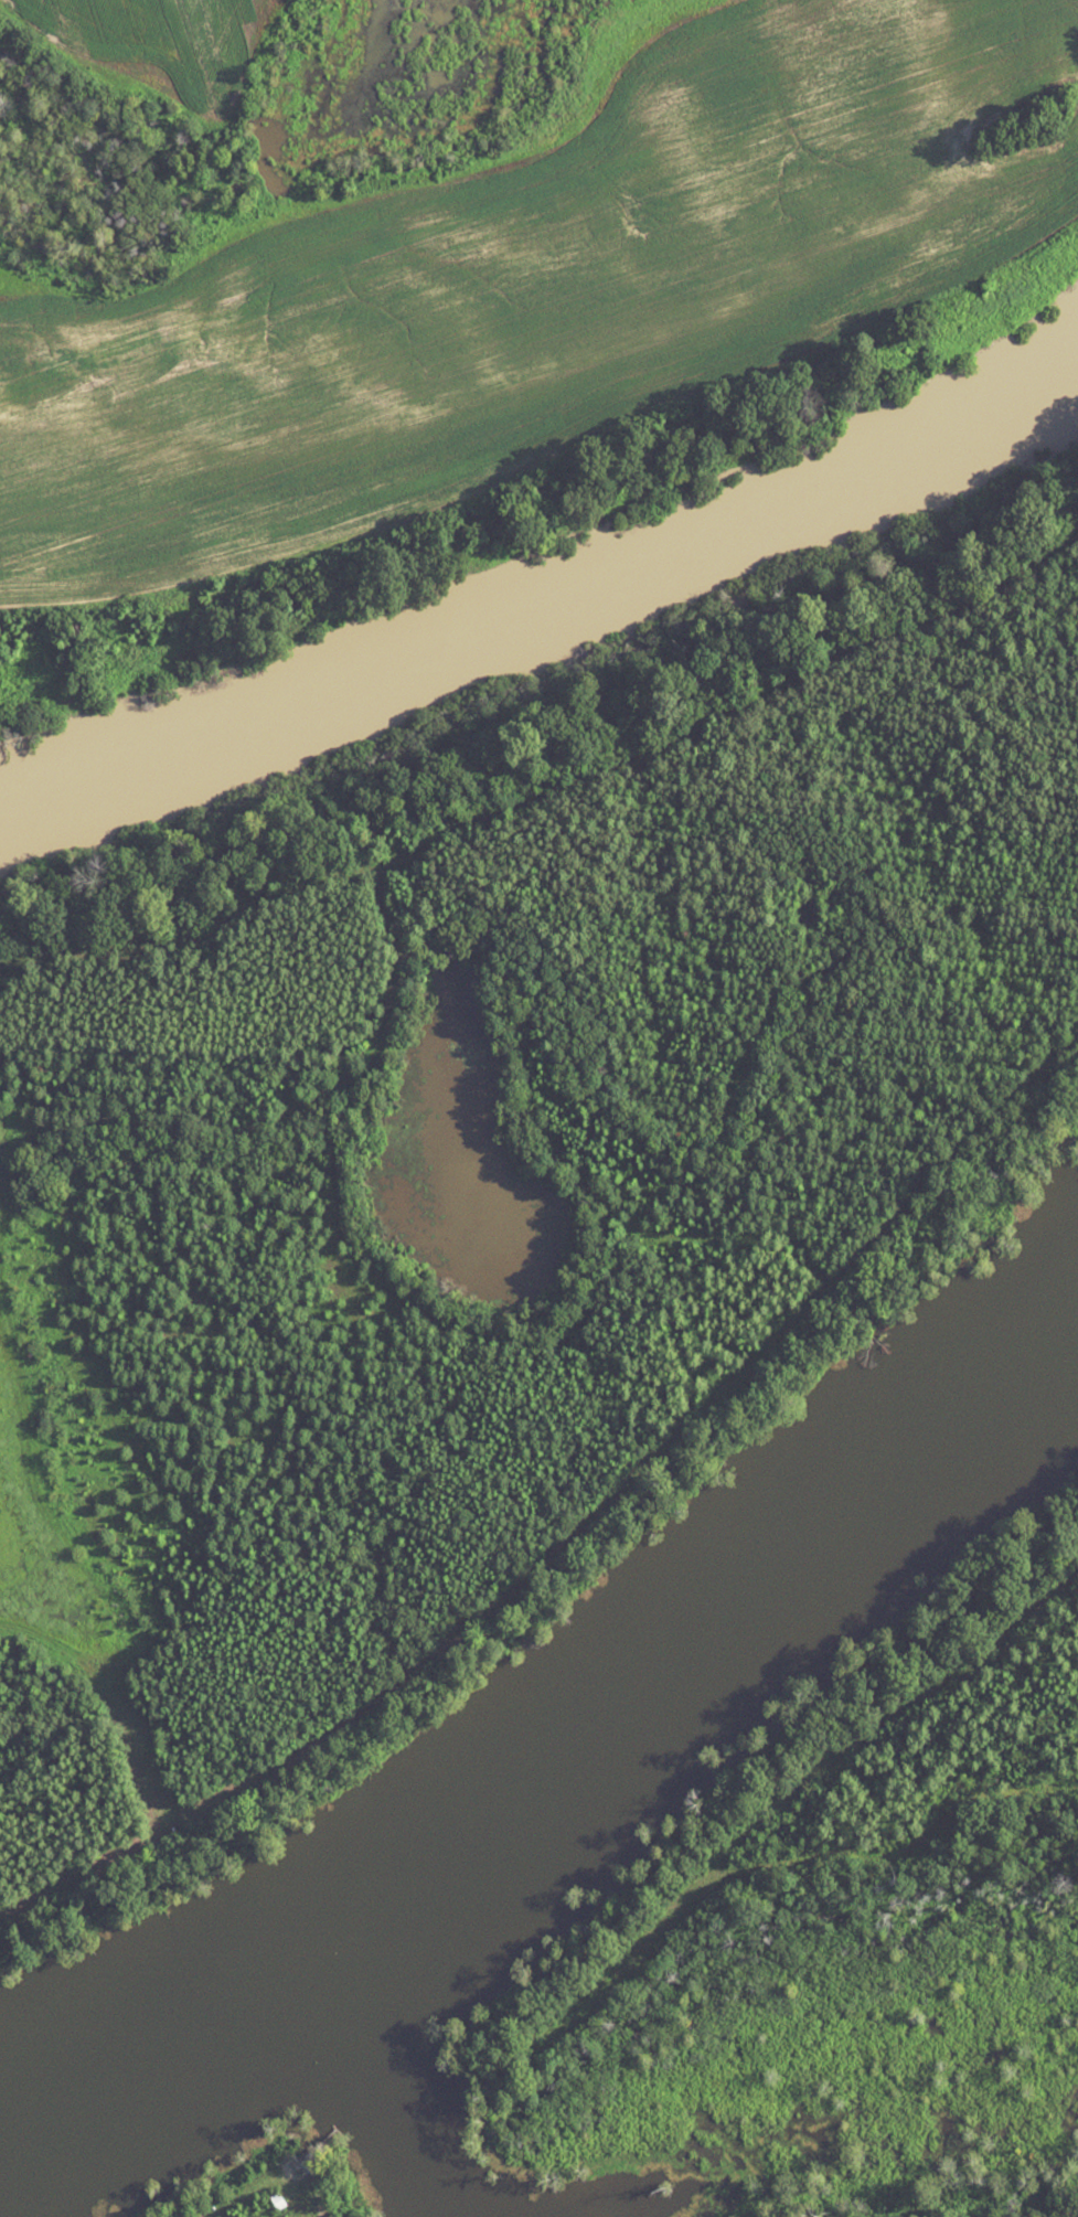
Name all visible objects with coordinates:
river: (549, 603)
road: (554, 786)

